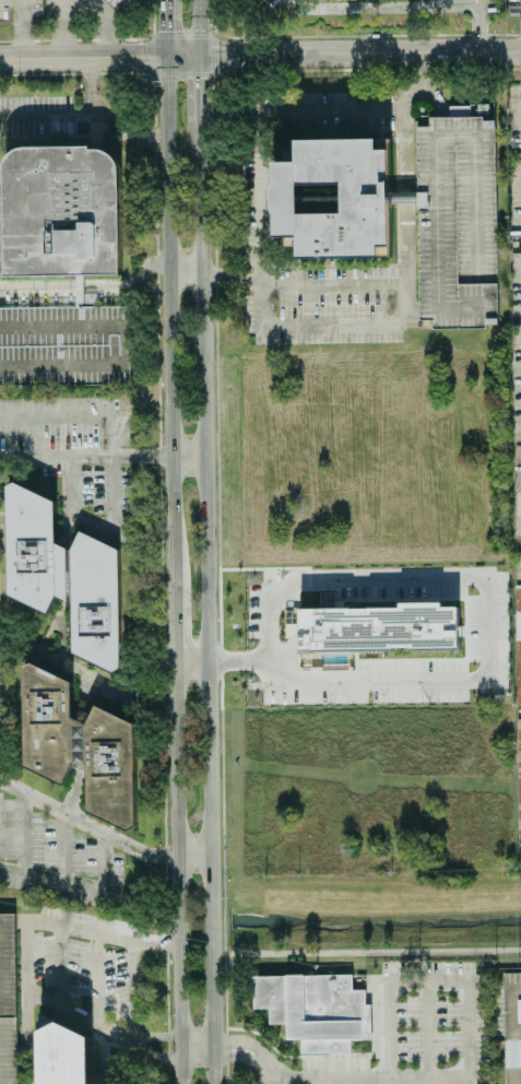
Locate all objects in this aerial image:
building: (113, 2)
road: (437, 3)
road: (380, 8)
road: (14, 10)
road: (478, 25)
road: (113, 27)
road: (163, 27)
road: (197, 27)
road: (27, 28)
road: (62, 28)
road: (350, 36)
road: (342, 52)
traffic signals: (163, 55)
traffic signals: (197, 55)
road: (81, 57)
road: (362, 69)
road: (418, 69)
road: (197, 89)
road: (46, 109)
road: (299, 109)
road: (402, 161)
road: (257, 197)
building: (333, 198)
building: (62, 211)
parking lot: (454, 222)
building: (455, 222)
road: (183, 271)
road: (229, 276)
road: (87, 287)
road: (404, 297)
road: (259, 308)
road: (410, 311)
road: (167, 321)
building: (60, 344)
parking lot: (63, 346)
road: (73, 414)
road: (186, 456)
road: (81, 460)
road: (75, 486)
building: (63, 575)
road: (475, 590)
road: (204, 603)
road: (171, 626)
building: (379, 628)
building: (518, 634)
road: (189, 663)
building: (79, 744)
road: (86, 824)
road: (192, 852)
road: (177, 873)
road: (80, 886)
road: (358, 958)
road: (26, 961)
road: (516, 991)
building: (7, 1000)
parking garage: (7, 1000)
building: (313, 1011)
building: (518, 1011)
road: (427, 1029)
road: (516, 1030)
road: (510, 1038)
road: (236, 1044)
road: (194, 1048)
building: (512, 1052)
building: (66, 1053)
road: (234, 1054)
road: (465, 1079)
road: (319, 1080)

